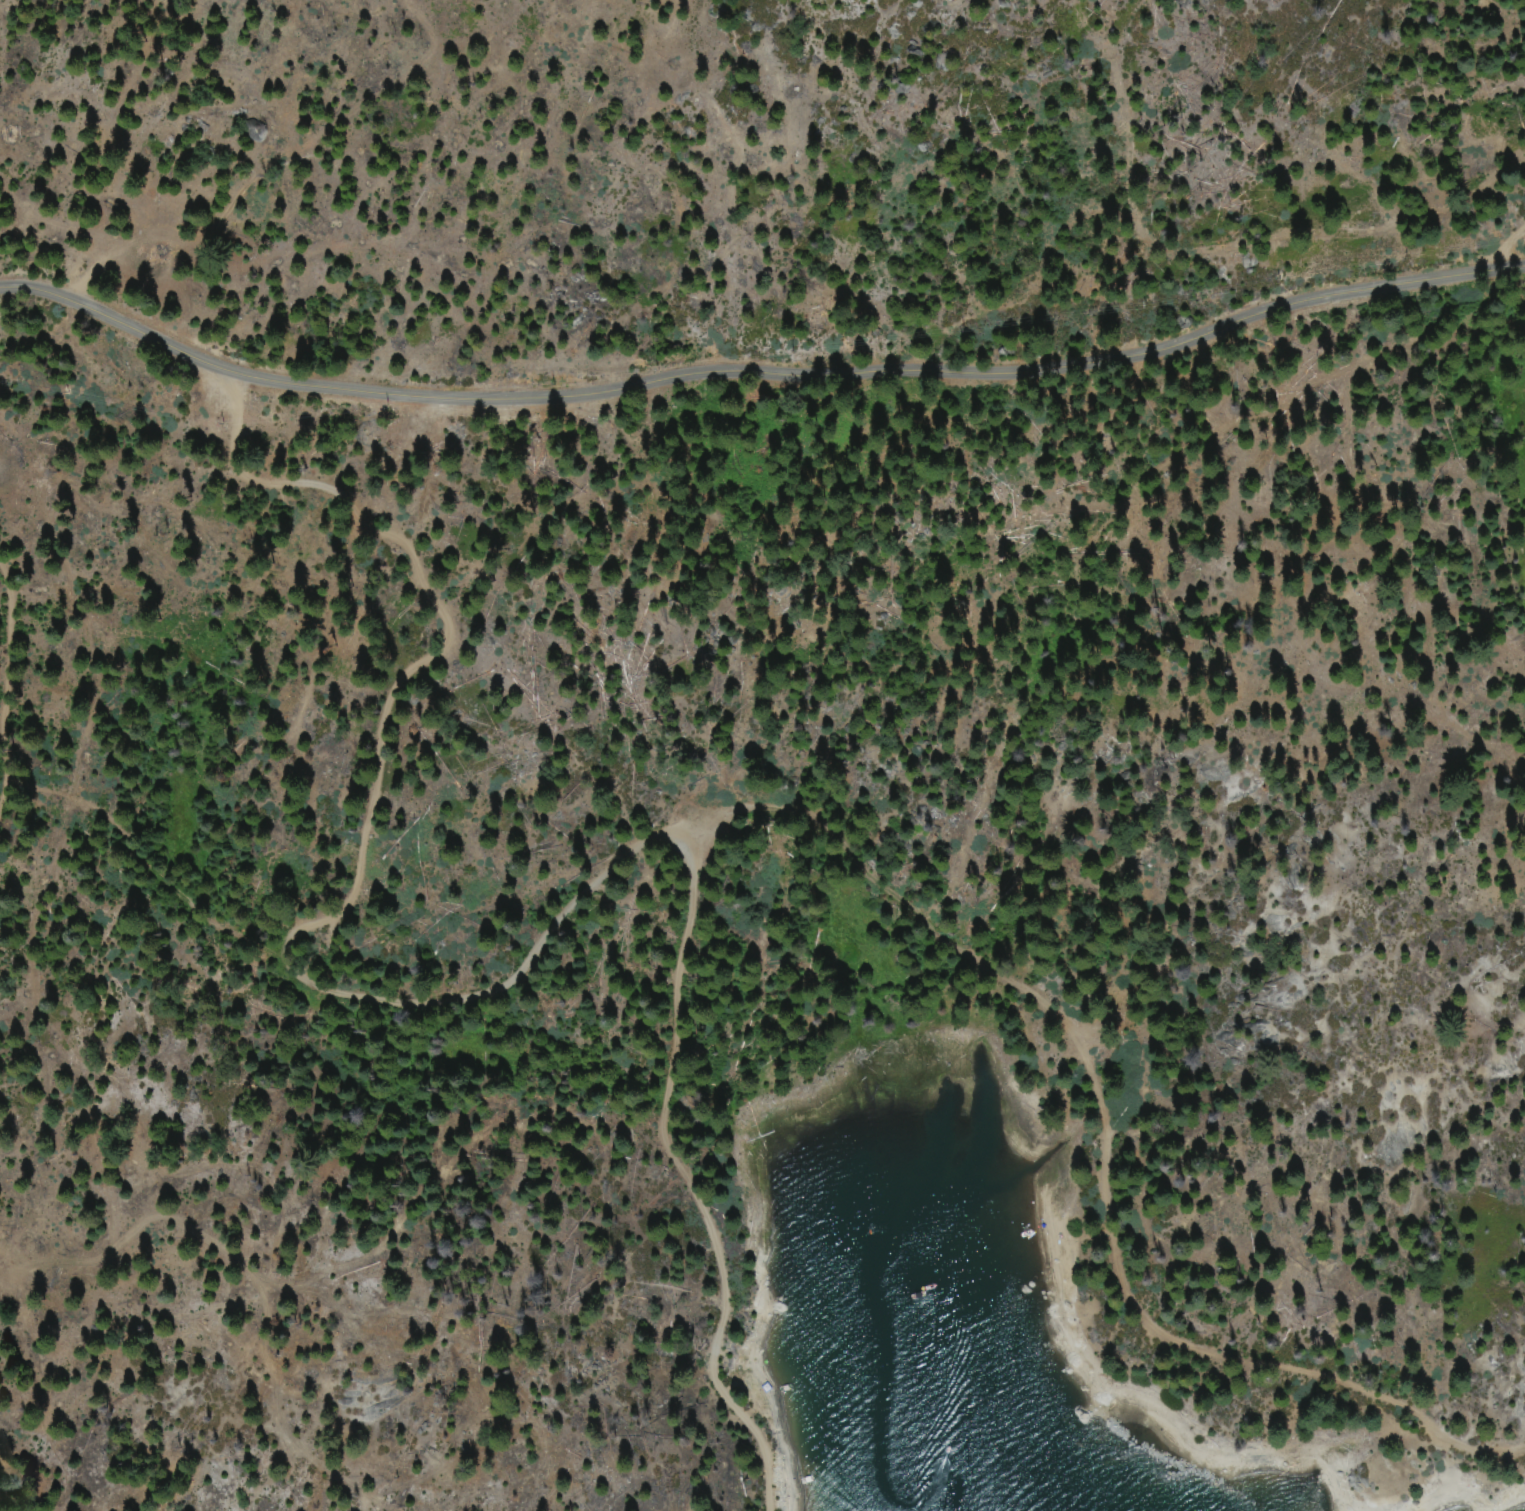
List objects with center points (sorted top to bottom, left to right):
road: (757, 369)
road: (444, 637)
road: (4, 678)
road: (846, 851)
road: (671, 1176)
road: (249, 1283)

